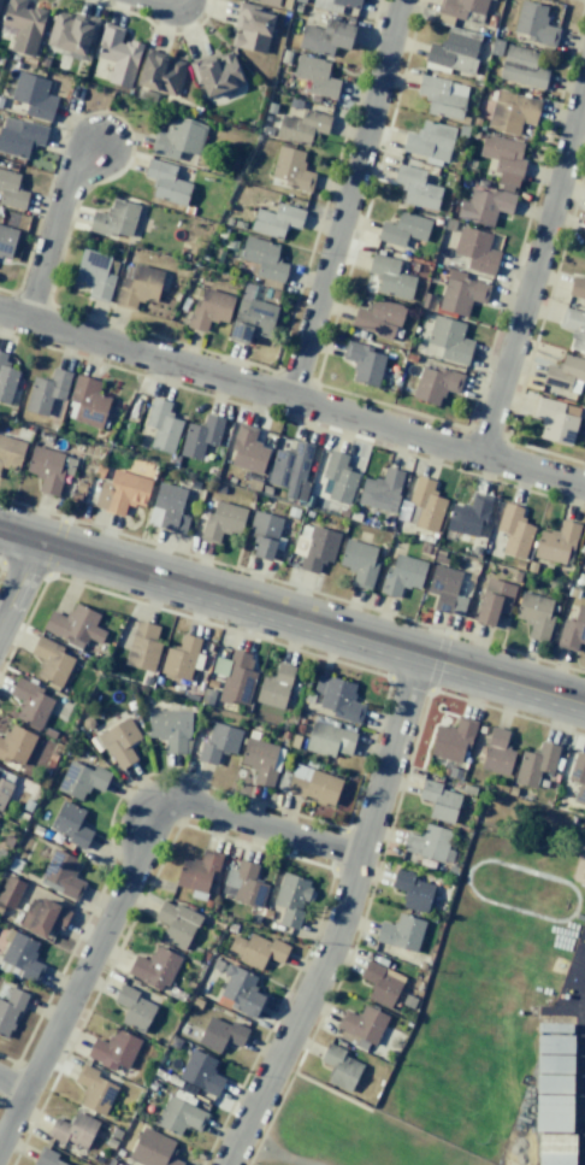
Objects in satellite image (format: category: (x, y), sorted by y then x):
road: (170, 0)
building: (268, 1)
building: (534, 24)
building: (23, 25)
building: (250, 29)
building: (69, 33)
building: (325, 37)
building: (454, 37)
building: (117, 54)
building: (521, 66)
building: (159, 73)
building: (217, 73)
building: (315, 76)
building: (32, 95)
building: (442, 96)
building: (512, 112)
building: (301, 126)
building: (19, 136)
building: (177, 139)
building: (429, 142)
building: (291, 169)
building: (508, 177)
building: (165, 182)
building: (415, 187)
building: (11, 190)
road: (348, 200)
building: (113, 218)
building: (276, 220)
road: (52, 224)
building: (403, 229)
building: (584, 239)
building: (6, 241)
building: (475, 249)
building: (264, 259)
road: (532, 269)
building: (94, 275)
building: (390, 277)
building: (136, 286)
building: (577, 288)
building: (460, 293)
building: (208, 310)
building: (378, 318)
building: (252, 320)
building: (574, 328)
building: (449, 340)
building: (362, 363)
building: (6, 378)
building: (435, 384)
building: (46, 390)
road: (292, 398)
building: (87, 402)
building: (555, 420)
building: (161, 425)
building: (200, 436)
building: (247, 451)
building: (10, 452)
building: (48, 469)
building: (290, 469)
building: (338, 477)
building: (380, 490)
building: (122, 492)
building: (421, 505)
building: (167, 508)
building: (467, 516)
building: (221, 522)
building: (513, 530)
building: (262, 534)
building: (318, 548)
building: (584, 551)
building: (359, 563)
building: (584, 571)
building: (402, 575)
road: (20, 582)
building: (445, 589)
building: (494, 601)
building: (534, 614)
road: (292, 617)
building: (73, 625)
building: (572, 630)
building: (142, 646)
building: (179, 658)
building: (49, 660)
building: (236, 678)
building: (274, 686)
building: (338, 698)
building: (29, 702)
building: (170, 728)
building: (118, 740)
building: (329, 740)
building: (453, 740)
building: (217, 742)
building: (16, 745)
building: (496, 752)
building: (259, 760)
building: (534, 764)
building: (578, 777)
building: (81, 778)
building: (312, 784)
building: (4, 790)
building: (438, 800)
building: (70, 824)
building: (427, 842)
building: (196, 871)
building: (60, 873)
building: (243, 884)
road: (129, 887)
building: (412, 890)
track: (524, 890)
building: (10, 892)
building: (290, 899)
building: (46, 917)
road: (341, 917)
building: (176, 922)
building: (400, 932)
building: (256, 949)
building: (22, 957)
building: (153, 967)
building: (379, 984)
building: (240, 990)
building: (10, 1008)
building: (132, 1008)
building: (362, 1023)
building: (221, 1035)
building: (555, 1045)
building: (113, 1049)
building: (555, 1065)
building: (339, 1067)
building: (200, 1073)
building: (555, 1084)
road: (12, 1088)
building: (93, 1089)
building: (554, 1113)
building: (178, 1114)
building: (73, 1129)
park: (341, 1132)
building: (152, 1149)
building: (557, 1149)
road: (272, 1153)
building: (45, 1158)

